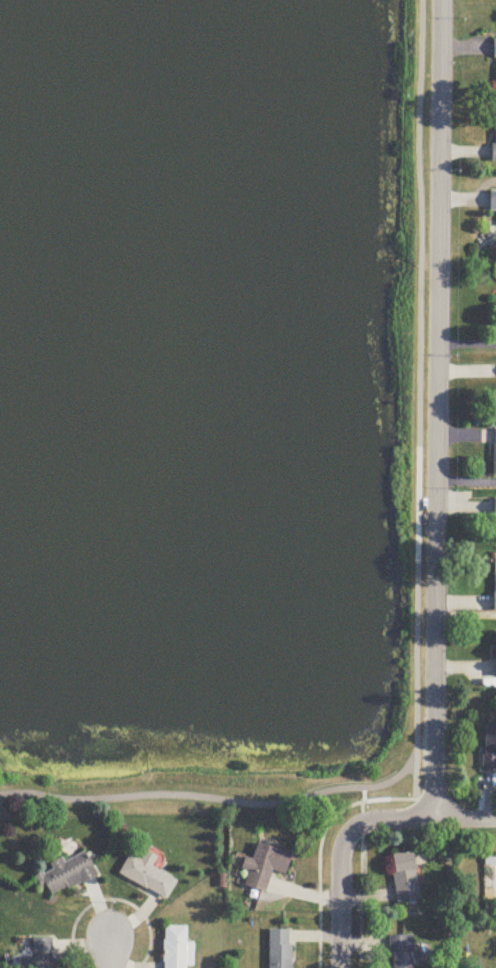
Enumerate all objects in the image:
building: (494, 50)
building: (494, 142)
building: (492, 203)
road: (420, 370)
park: (213, 404)
road: (438, 408)
building: (494, 453)
building: (494, 509)
building: (494, 587)
building: (495, 656)
building: (490, 749)
road: (414, 755)
road: (402, 771)
road: (413, 782)
road: (190, 785)
road: (1, 787)
road: (463, 816)
road: (318, 848)
road: (340, 856)
building: (264, 867)
building: (66, 876)
building: (147, 877)
building: (405, 879)
road: (360, 884)
road: (110, 900)
building: (175, 947)
building: (280, 949)
building: (403, 953)
road: (110, 954)
building: (42, 956)

